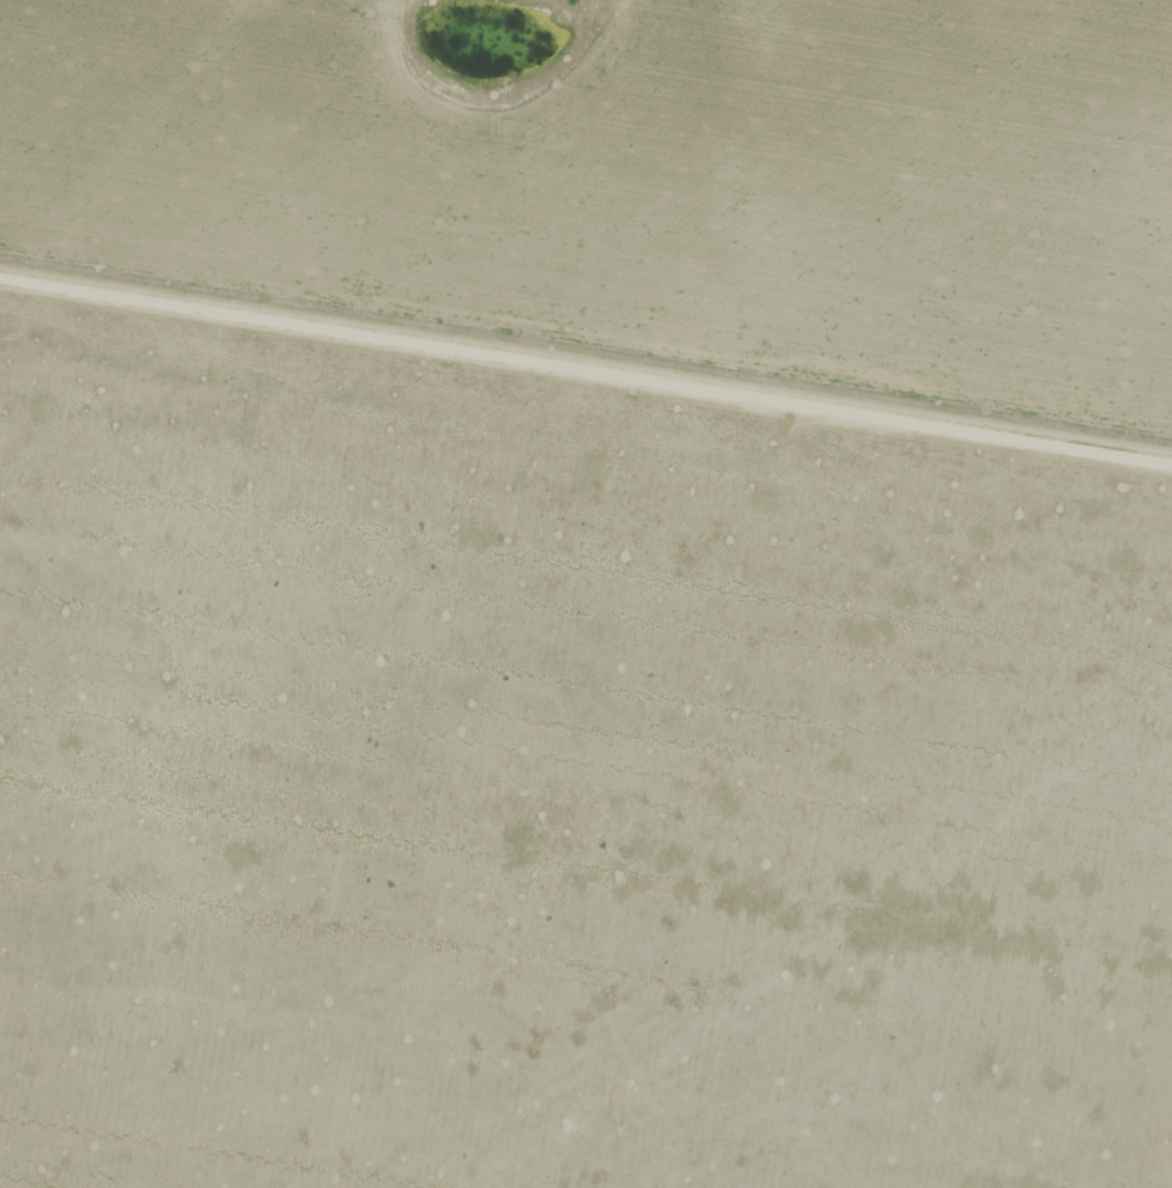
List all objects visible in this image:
road: (585, 358)

